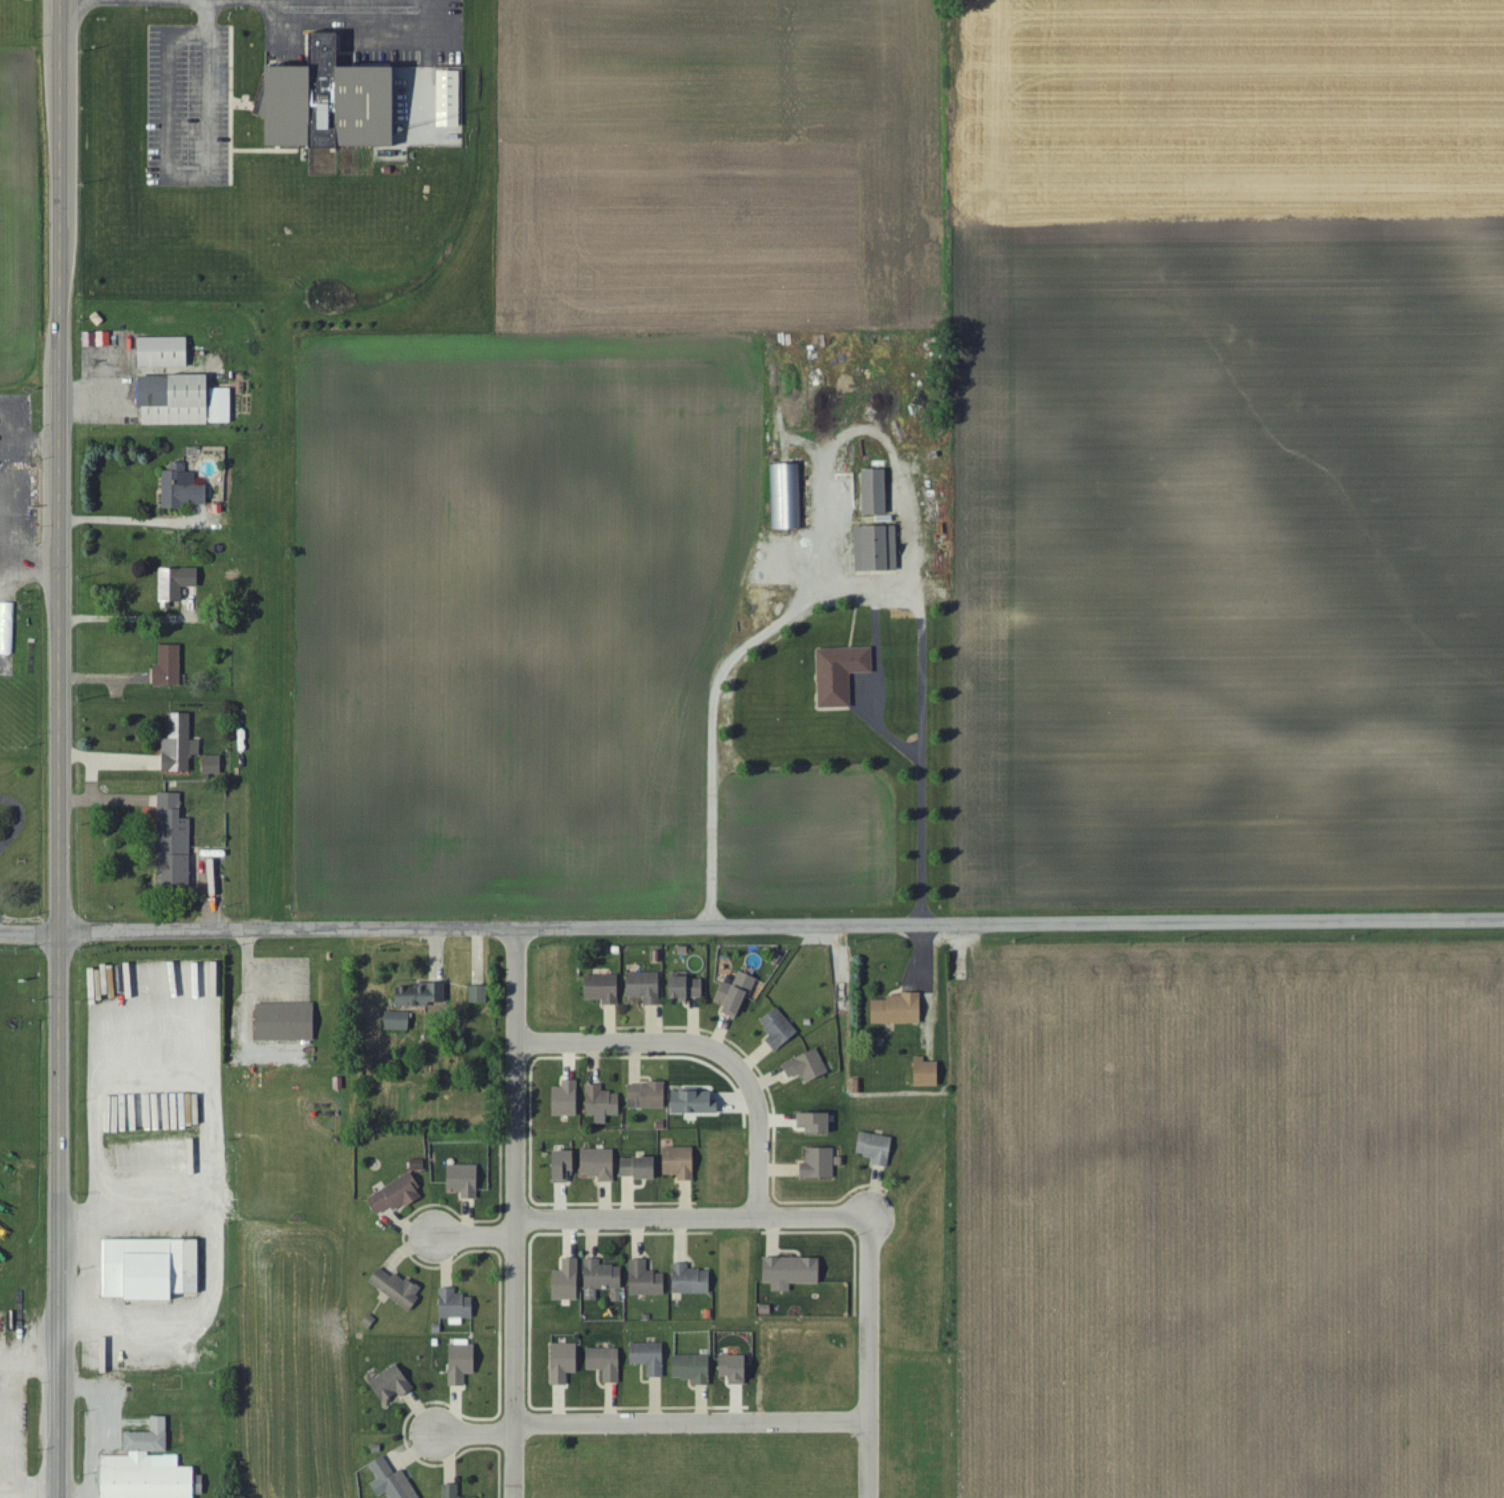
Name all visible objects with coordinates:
road: (444, 19)
building: (330, 92)
building: (451, 99)
building: (98, 339)
building: (165, 352)
building: (185, 401)
building: (183, 489)
building: (876, 493)
building: (788, 498)
building: (878, 549)
building: (177, 585)
road: (832, 591)
road: (121, 619)
building: (169, 667)
building: (841, 674)
building: (181, 744)
road: (58, 748)
building: (213, 765)
building: (174, 843)
road: (751, 927)
building: (646, 987)
building: (687, 987)
building: (604, 989)
building: (737, 993)
building: (423, 994)
building: (478, 994)
building: (899, 1009)
building: (287, 1021)
building: (398, 1021)
building: (779, 1029)
building: (807, 1067)
building: (928, 1072)
road: (743, 1074)
building: (647, 1095)
building: (567, 1098)
building: (695, 1102)
building: (601, 1103)
building: (818, 1122)
building: (877, 1148)
building: (681, 1163)
building: (600, 1164)
building: (819, 1164)
building: (565, 1165)
building: (640, 1167)
building: (464, 1180)
building: (397, 1195)
road: (633, 1211)
road: (512, 1214)
road: (470, 1230)
building: (151, 1268)
building: (792, 1272)
building: (602, 1276)
building: (646, 1280)
building: (692, 1280)
building: (567, 1281)
building: (396, 1288)
building: (456, 1306)
road: (867, 1356)
building: (649, 1358)
building: (565, 1363)
building: (606, 1363)
building: (462, 1364)
building: (736, 1368)
building: (693, 1369)
building: (392, 1384)
road: (647, 1419)
building: (148, 1468)
building: (392, 1481)
building: (452, 1491)

